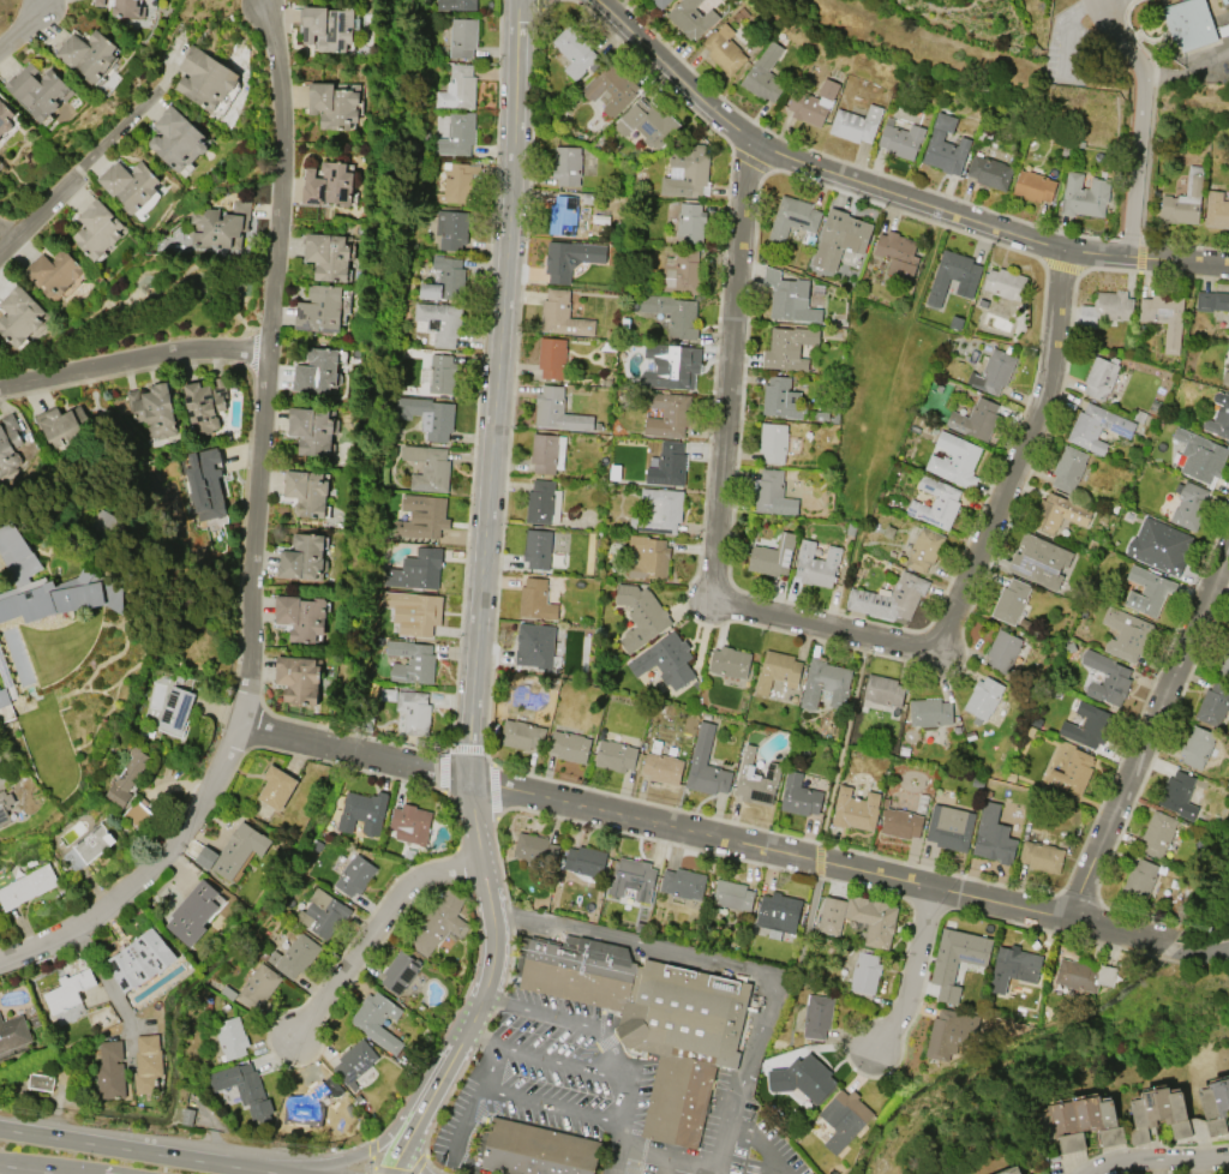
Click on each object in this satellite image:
road: (1092, 0)
road: (1093, 0)
road: (1095, 0)
building: (98, 2)
building: (660, 2)
building: (455, 5)
building: (125, 8)
building: (690, 17)
building: (1188, 23)
road: (23, 24)
building: (328, 26)
building: (1223, 30)
building: (462, 37)
building: (724, 49)
building: (574, 50)
building: (88, 54)
building: (763, 74)
railway: (1017, 76)
building: (204, 78)
building: (457, 88)
building: (611, 89)
building: (37, 90)
building: (813, 103)
building: (334, 104)
building: (5, 116)
road: (1139, 120)
building: (646, 124)
building: (856, 124)
building: (456, 136)
building: (176, 138)
building: (900, 139)
building: (943, 146)
building: (566, 164)
building: (687, 170)
building: (989, 170)
road: (79, 173)
building: (456, 181)
building: (128, 184)
building: (328, 184)
road: (883, 186)
building: (1033, 186)
building: (1084, 194)
building: (1183, 199)
building: (1217, 210)
building: (563, 215)
building: (793, 220)
building: (690, 222)
building: (221, 226)
building: (96, 229)
building: (451, 229)
building: (840, 238)
building: (898, 253)
building: (329, 256)
building: (570, 258)
building: (53, 272)
building: (681, 272)
building: (953, 276)
building: (444, 278)
building: (1003, 282)
building: (789, 297)
building: (1211, 301)
building: (1113, 305)
building: (319, 309)
building: (562, 315)
building: (673, 315)
building: (20, 317)
building: (1163, 317)
building: (439, 322)
building: (789, 347)
building: (551, 358)
road: (132, 360)
building: (671, 365)
building: (316, 371)
building: (993, 371)
building: (1225, 371)
building: (442, 373)
building: (1101, 377)
building: (781, 399)
building: (204, 403)
building: (152, 409)
building: (557, 411)
building: (667, 414)
building: (428, 415)
building: (976, 418)
building: (1219, 418)
building: (64, 426)
building: (1097, 427)
building: (311, 431)
road: (492, 431)
building: (773, 442)
building: (8, 444)
building: (547, 453)
building: (1200, 455)
building: (954, 460)
building: (667, 465)
building: (428, 467)
building: (1068, 468)
building: (204, 483)
building: (306, 492)
building: (773, 493)
building: (542, 502)
building: (935, 503)
building: (1189, 505)
building: (659, 510)
building: (1059, 513)
building: (422, 515)
road: (253, 535)
building: (1159, 546)
building: (538, 549)
building: (924, 550)
building: (648, 556)
building: (773, 556)
building: (301, 557)
building: (1039, 561)
building: (816, 563)
building: (416, 569)
building: (48, 581)
building: (1152, 594)
building: (891, 599)
building: (536, 600)
building: (1012, 601)
building: (421, 612)
building: (642, 613)
building: (301, 616)
road: (805, 624)
building: (1129, 633)
building: (530, 645)
building: (1003, 651)
building: (666, 658)
building: (1224, 661)
building: (731, 663)
building: (416, 665)
building: (779, 671)
building: (299, 678)
building: (1109, 678)
building: (827, 683)
building: (885, 690)
building: (6, 696)
building: (984, 697)
building: (1215, 703)
building: (176, 711)
building: (415, 712)
building: (930, 713)
building: (1089, 725)
building: (522, 735)
road: (1149, 735)
building: (570, 747)
building: (1198, 747)
building: (617, 755)
building: (707, 765)
building: (664, 766)
building: (1073, 773)
building: (126, 778)
building: (757, 779)
building: (277, 787)
building: (1180, 795)
building: (801, 796)
building: (12, 797)
building: (857, 809)
building: (362, 810)
building: (138, 814)
building: (412, 823)
building: (903, 823)
building: (951, 827)
building: (1158, 833)
building: (993, 835)
road: (733, 843)
building: (89, 846)
building: (234, 850)
building: (536, 850)
building: (1042, 856)
building: (586, 861)
building: (355, 875)
building: (634, 879)
building: (1139, 879)
building: (684, 884)
building: (28, 886)
building: (733, 896)
building: (781, 910)
building: (193, 912)
building: (325, 912)
building: (861, 916)
building: (440, 922)
road: (372, 930)
road: (683, 951)
building: (963, 951)
building: (298, 956)
building: (142, 959)
building: (1012, 968)
building: (400, 972)
road: (916, 972)
building: (865, 976)
building: (1084, 976)
building: (258, 987)
building: (70, 990)
road: (481, 994)
building: (817, 1016)
building: (378, 1020)
building: (652, 1026)
building: (951, 1031)
building: (14, 1034)
building: (232, 1037)
building: (355, 1064)
building: (148, 1065)
road: (634, 1070)
building: (110, 1071)
building: (802, 1078)
building: (40, 1082)
building: (245, 1086)
parking lot: (584, 1089)
building: (322, 1096)
road: (528, 1096)
building: (1216, 1107)
building: (1159, 1114)
building: (845, 1118)
building: (1077, 1120)
road: (464, 1121)
road: (729, 1125)
road: (404, 1143)
road: (762, 1143)
building: (539, 1145)
road: (628, 1148)
road: (362, 1152)
road: (139, 1154)
road: (614, 1160)
road: (1162, 1161)
road: (664, 1166)
road: (25, 1169)
building: (1014, 1170)

